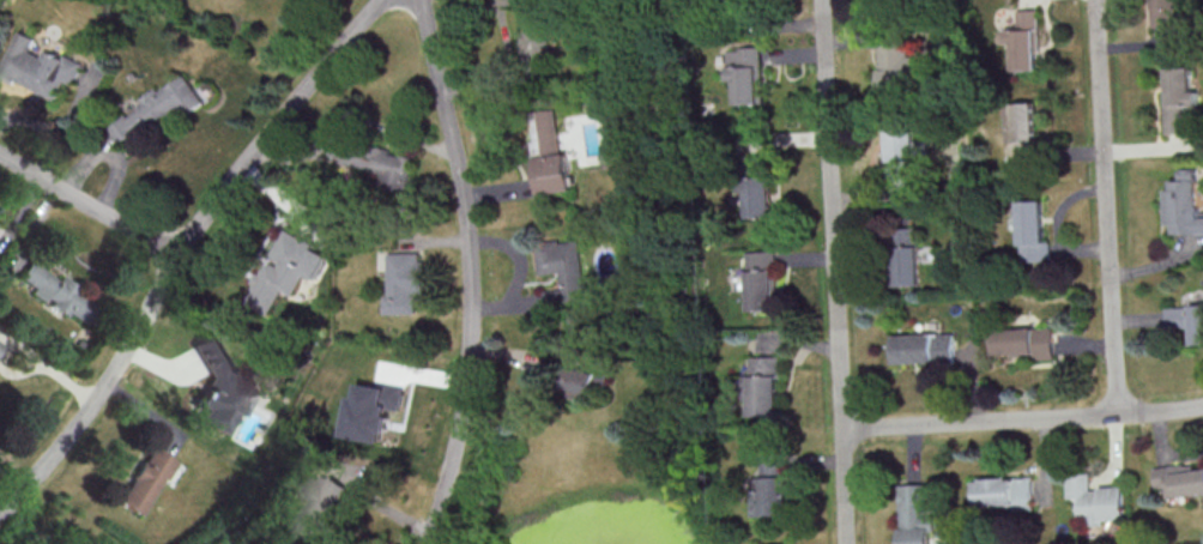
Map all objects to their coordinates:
building: (1168, 20)
building: (538, 32)
building: (1024, 41)
building: (37, 67)
building: (896, 72)
building: (745, 74)
building: (1181, 85)
building: (169, 101)
building: (1174, 121)
building: (1021, 129)
building: (554, 157)
building: (381, 163)
building: (758, 186)
building: (1184, 204)
road: (1105, 207)
road: (86, 208)
building: (1032, 231)
road: (180, 248)
building: (906, 255)
building: (563, 264)
building: (284, 271)
road: (835, 271)
road: (472, 272)
building: (405, 282)
building: (56, 291)
building: (1186, 320)
building: (1022, 341)
building: (923, 347)
building: (584, 376)
building: (766, 386)
building: (222, 387)
building: (374, 411)
road: (1023, 421)
building: (145, 479)
building: (1180, 479)
building: (1006, 491)
building: (774, 496)
building: (1096, 500)
building: (318, 502)
building: (915, 536)

